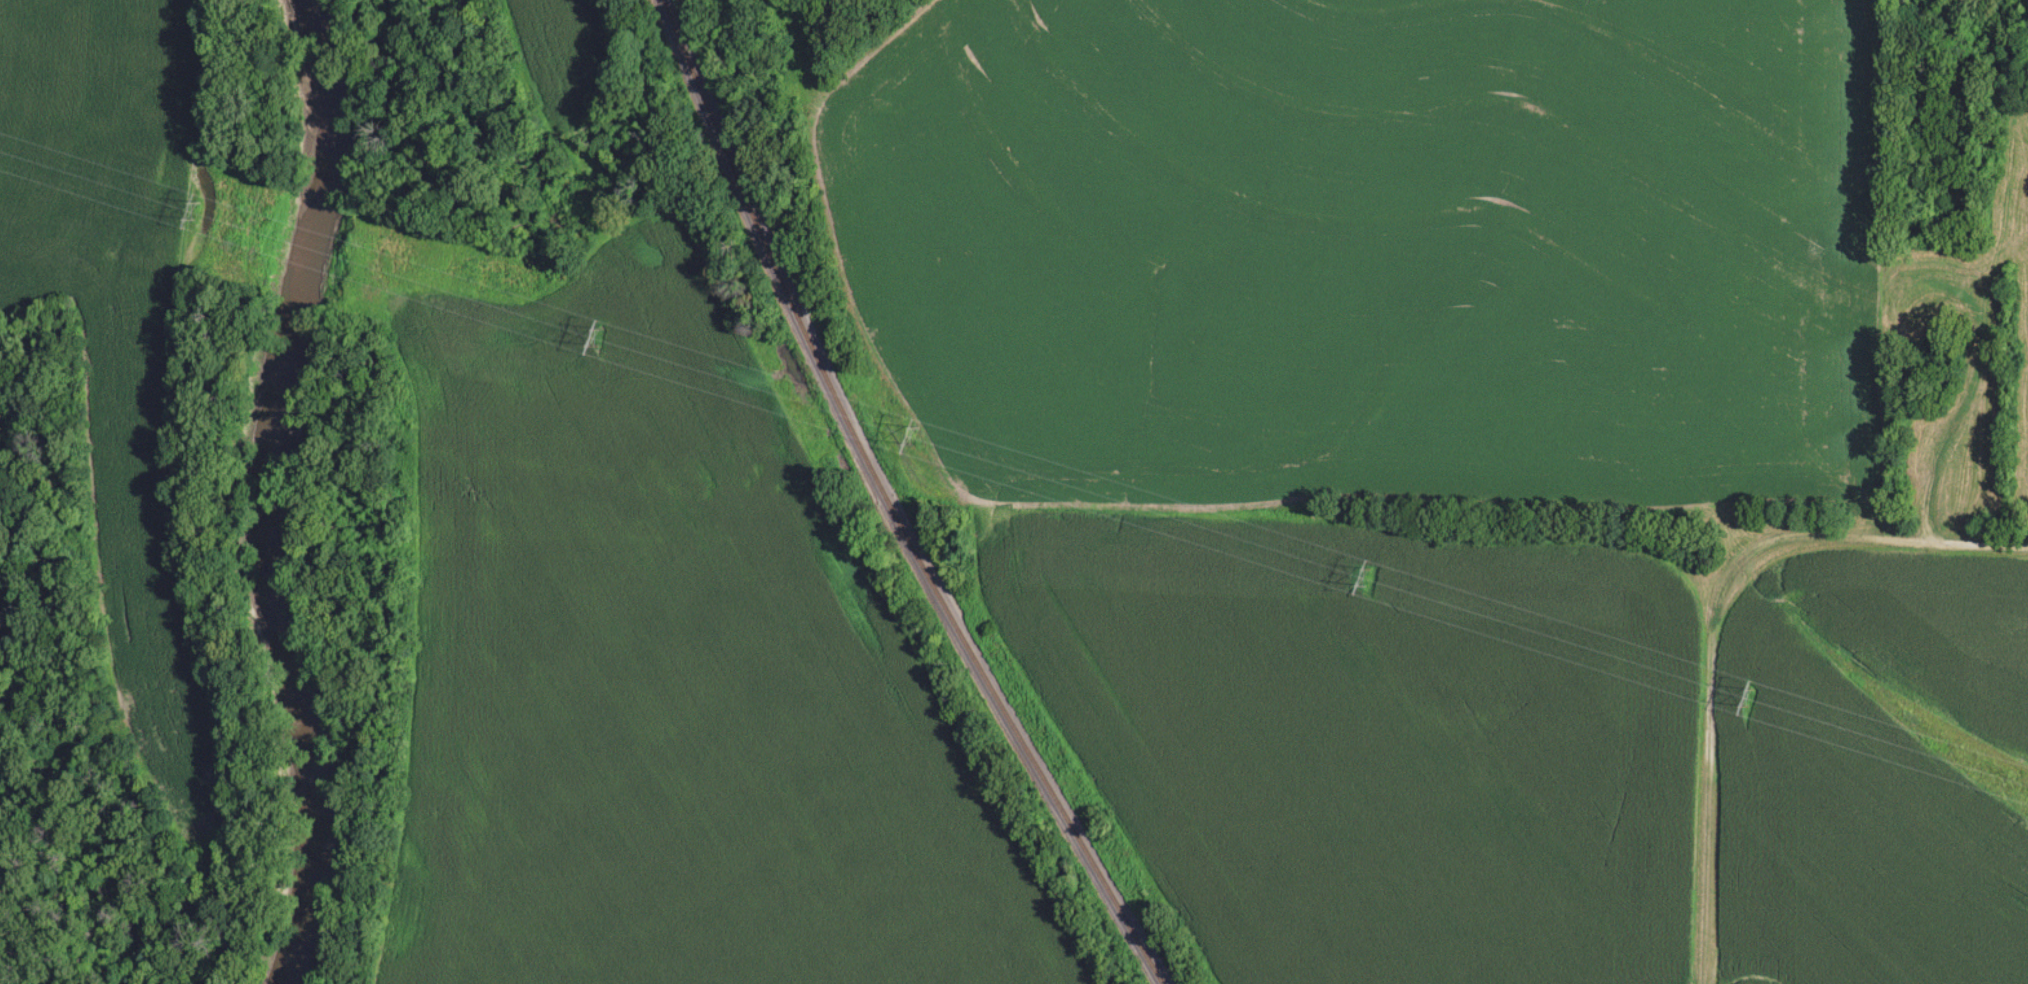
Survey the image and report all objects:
power tower: (197, 208)
power tower: (602, 336)
power tower: (918, 430)
river: (261, 493)
railway: (887, 504)
power tower: (1367, 575)
road: (1711, 621)
power tower: (1752, 696)

